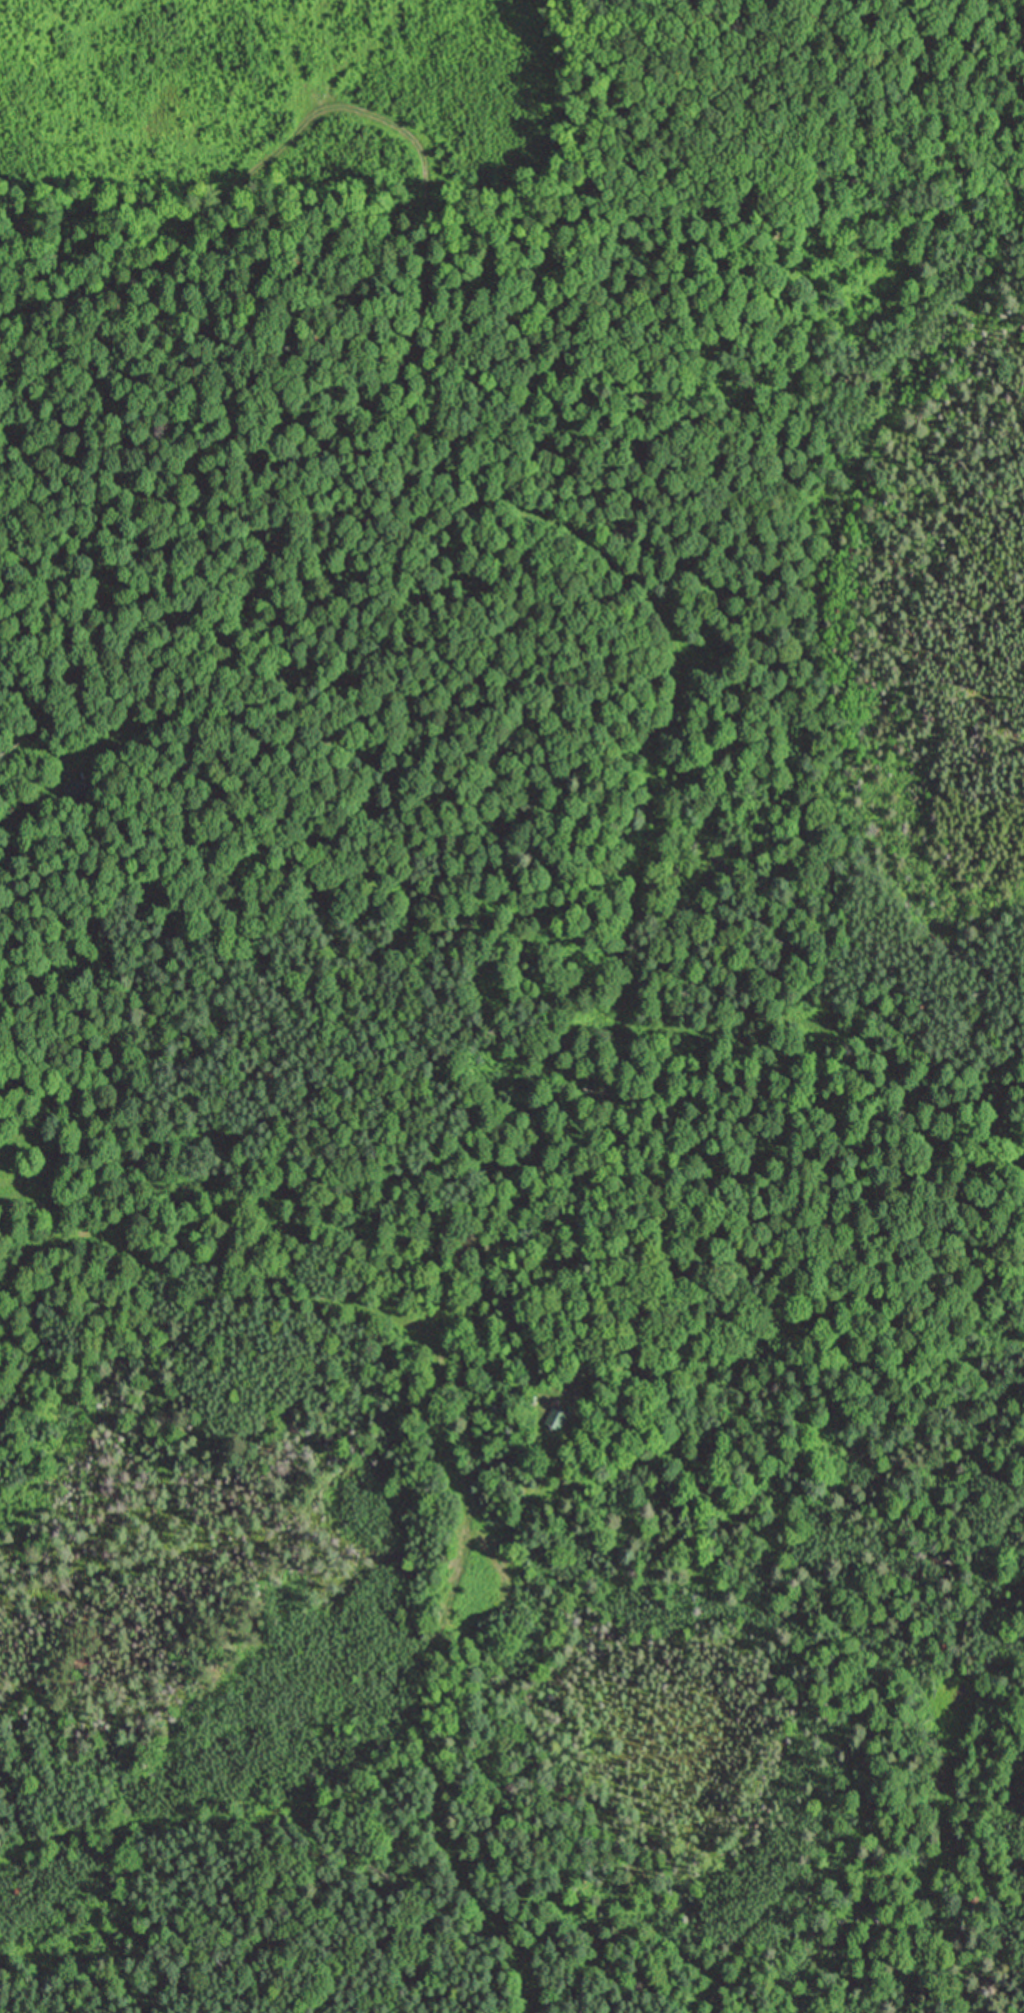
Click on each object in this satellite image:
road: (349, 1300)
road: (439, 1826)

